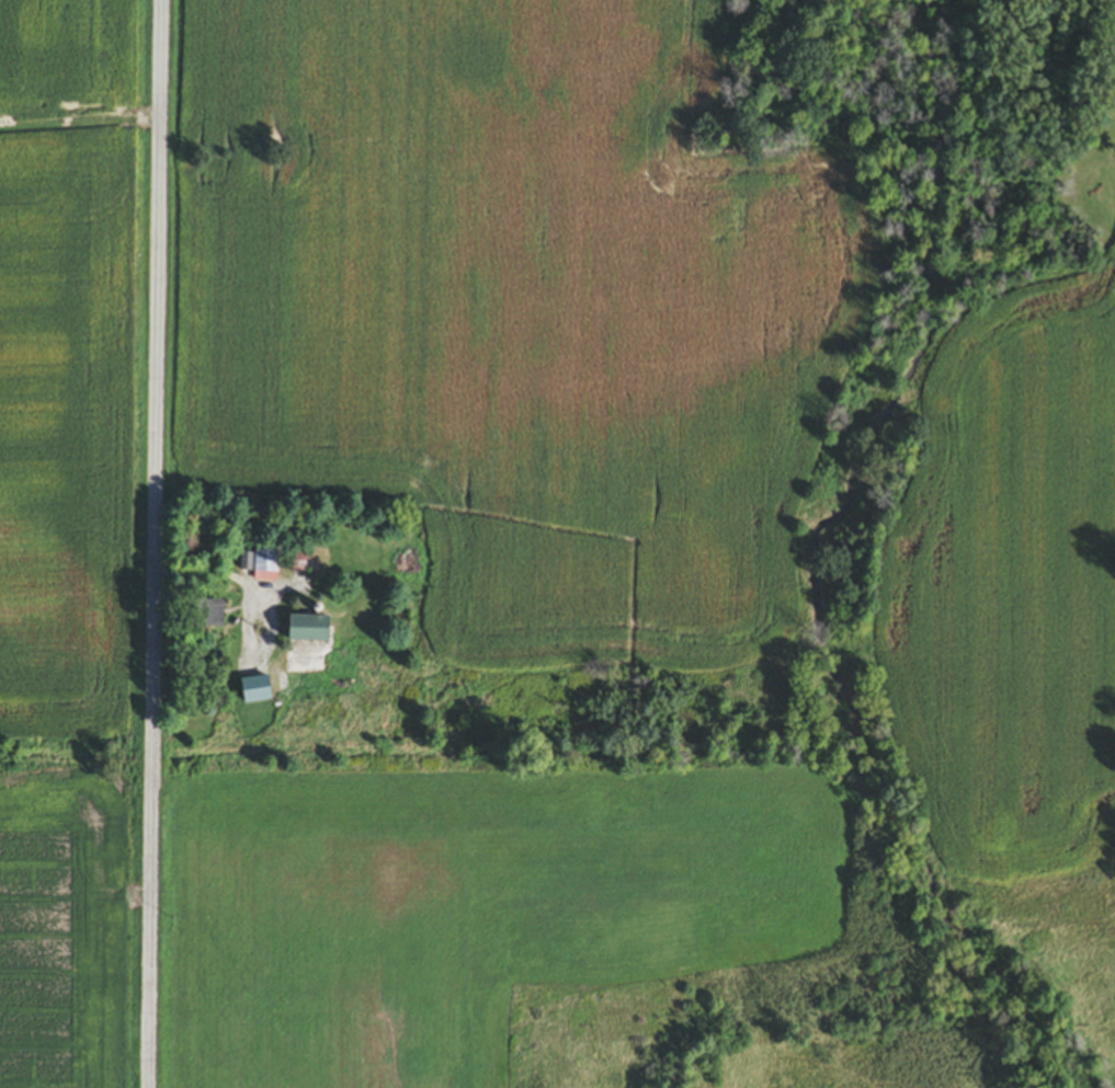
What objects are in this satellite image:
road: (80, 123)
road: (157, 543)
building: (265, 563)
building: (207, 617)
building: (307, 632)
building: (257, 691)

